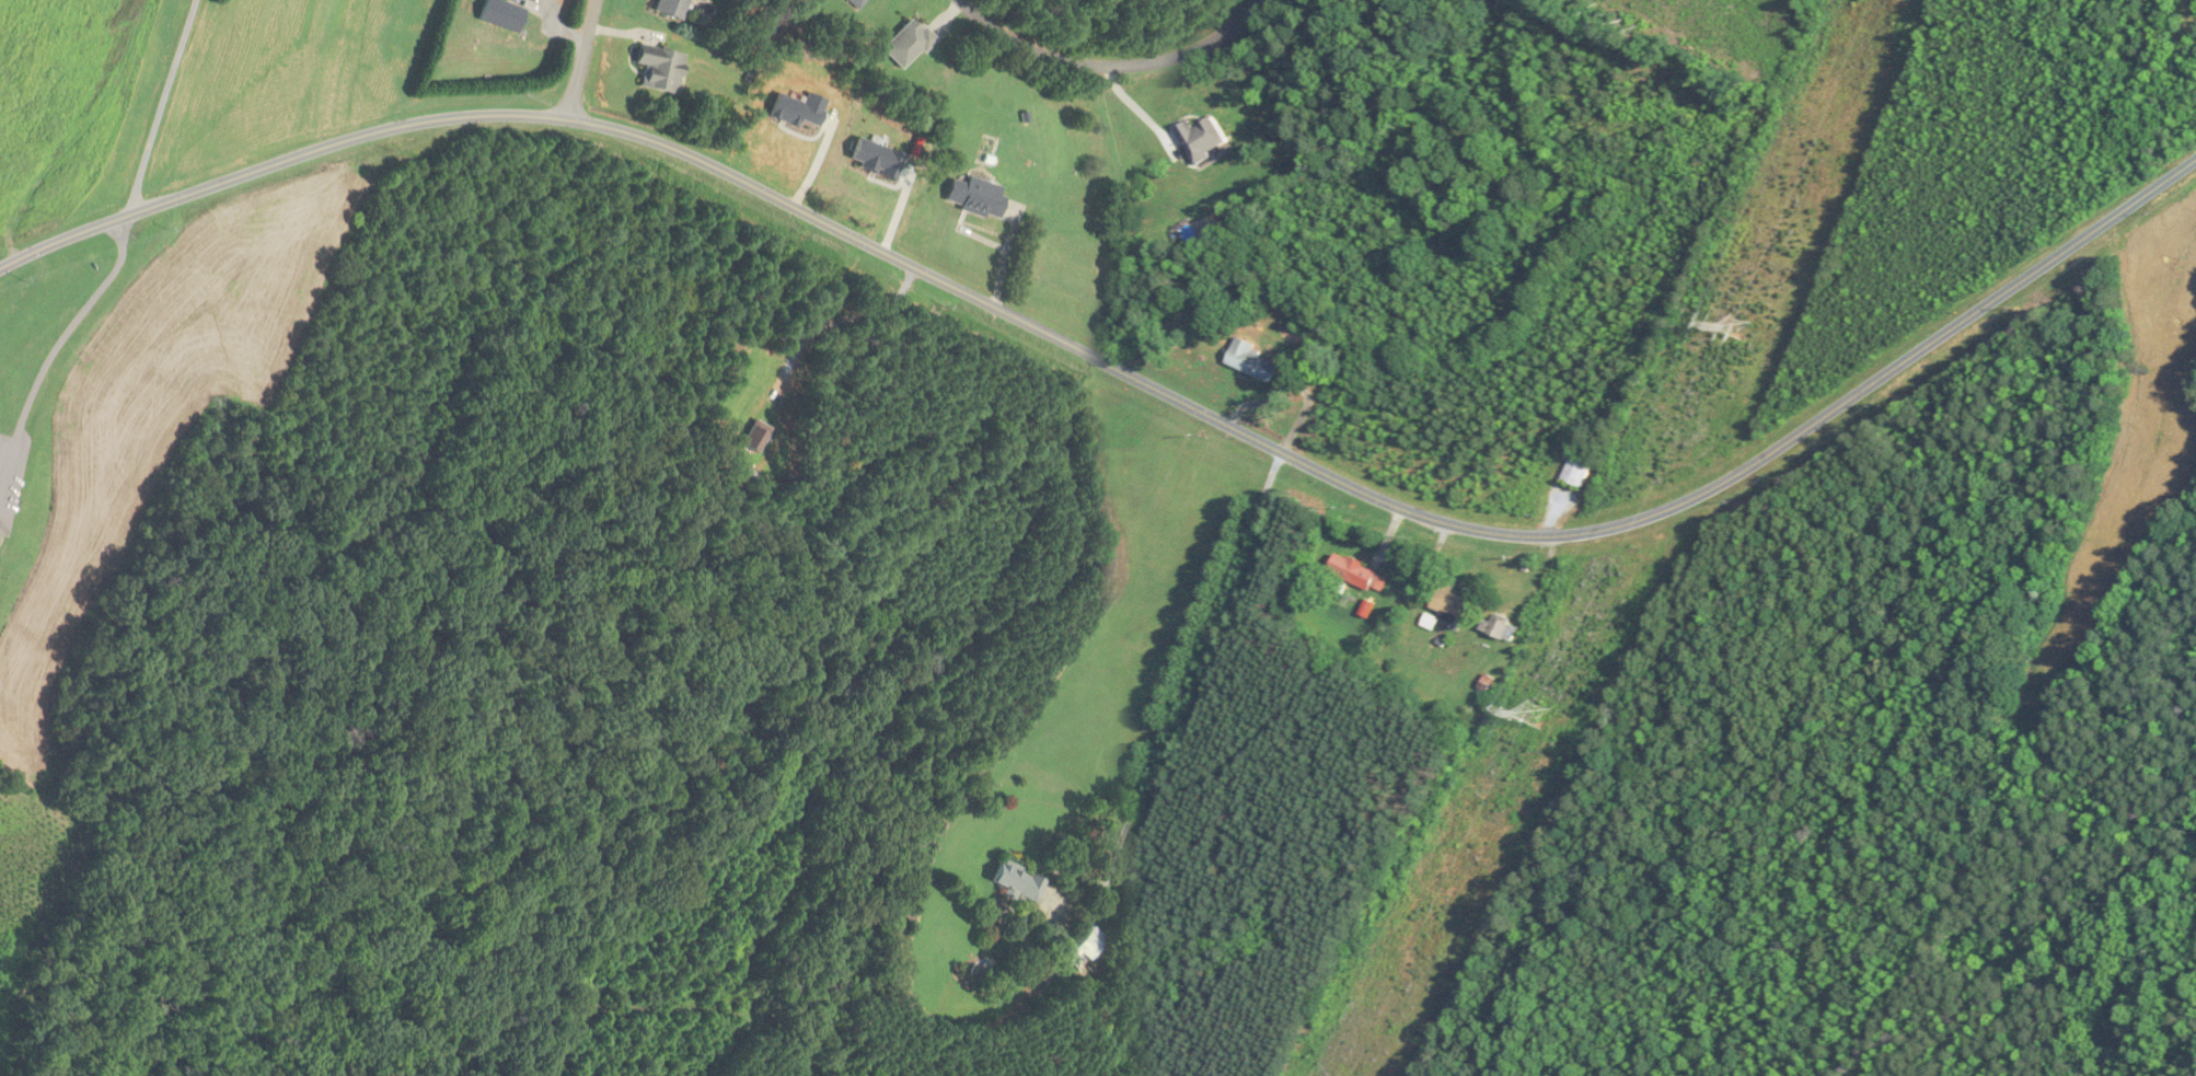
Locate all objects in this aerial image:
building: (697, 1)
building: (852, 2)
building: (669, 9)
road: (582, 59)
road: (1109, 65)
building: (658, 70)
road: (160, 106)
road: (1140, 109)
building: (973, 197)
building: (1327, 328)
power tower: (1733, 332)
road: (55, 347)
building: (1251, 361)
road: (1128, 373)
road: (1293, 383)
building: (1576, 471)
building: (1352, 571)
building: (1446, 606)
building: (1500, 628)
road: (1191, 678)
power tower: (1536, 713)
building: (33, 774)
building: (1015, 881)
building: (1084, 949)

